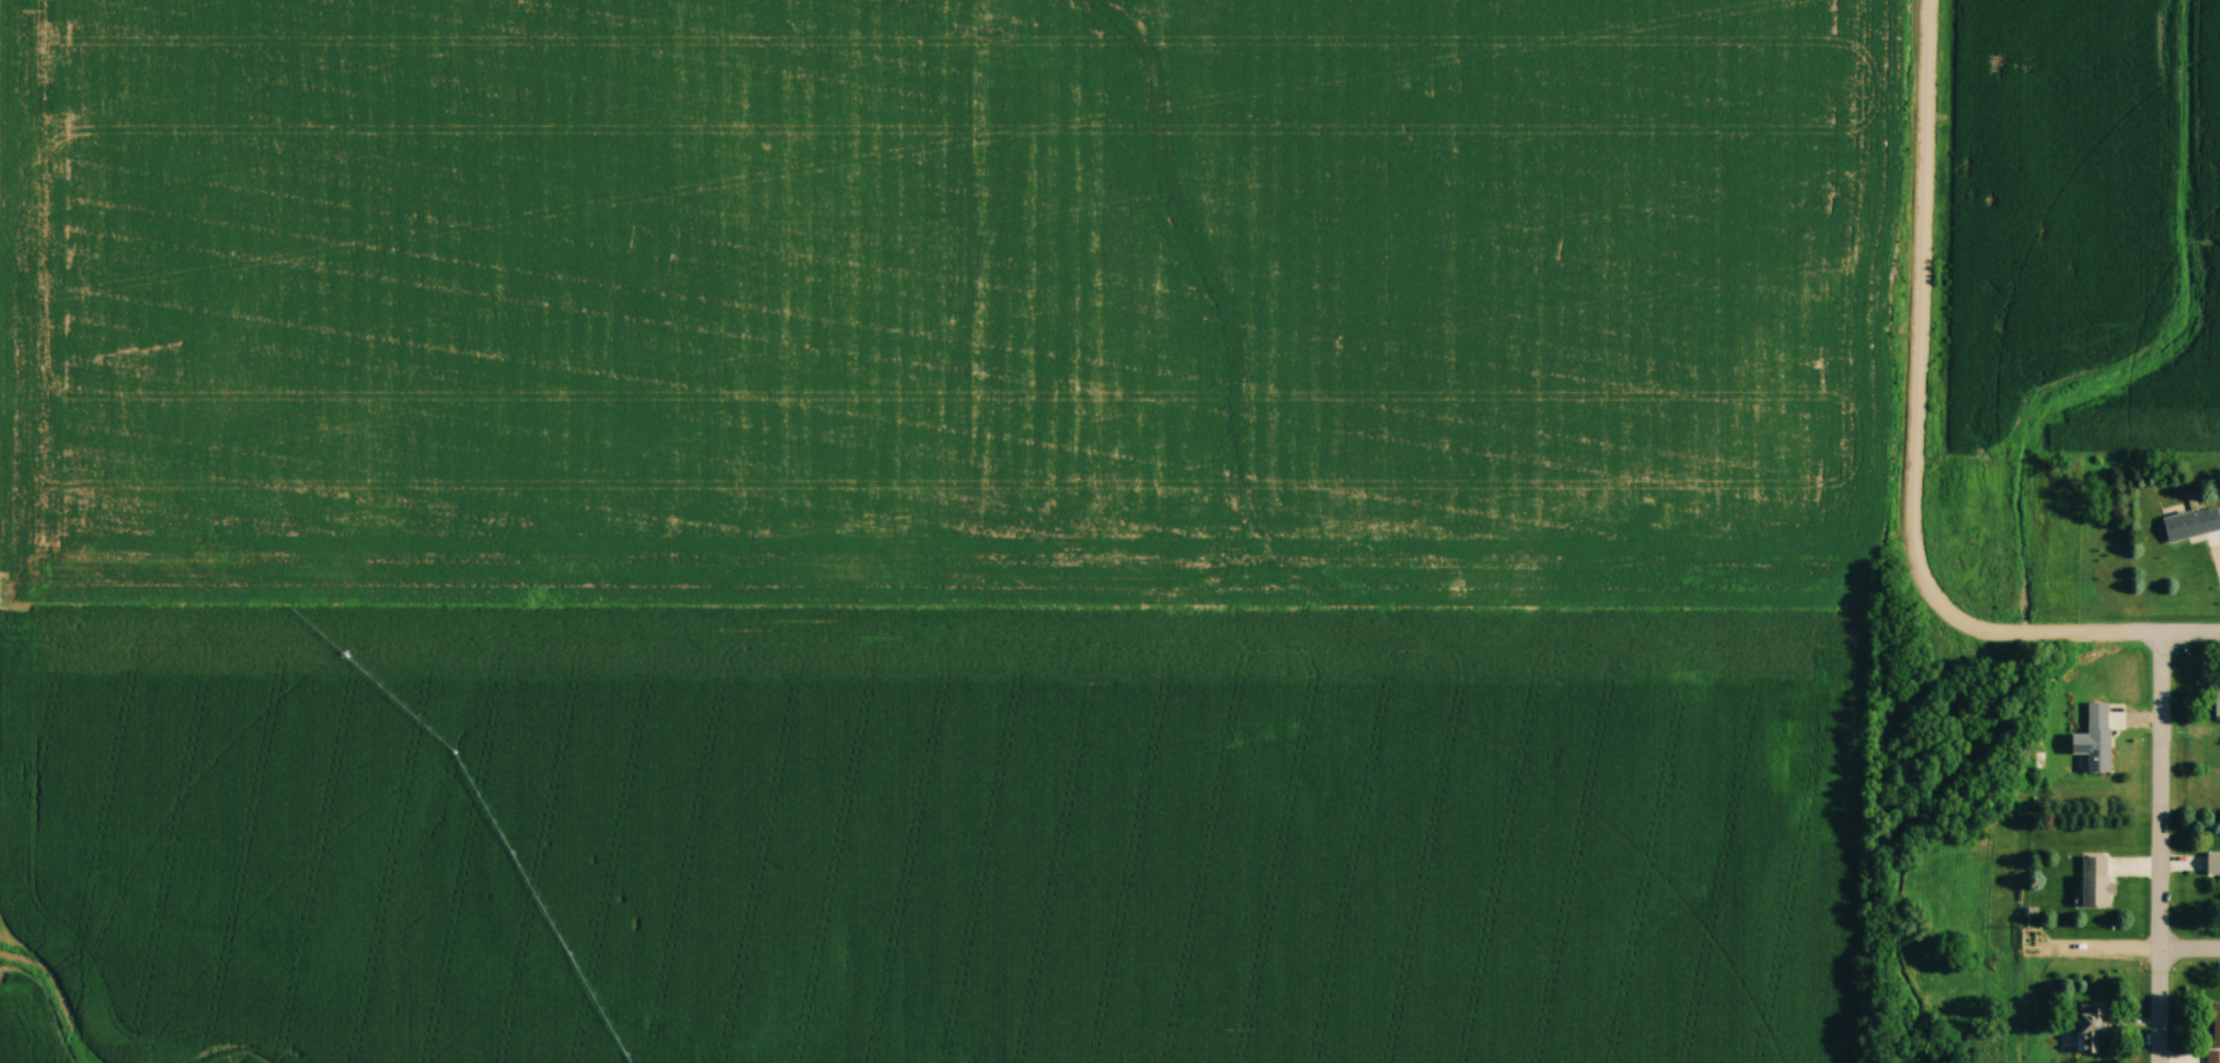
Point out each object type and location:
road: (1922, 303)
building: (2193, 524)
road: (2074, 634)
building: (2217, 698)
building: (2100, 750)
road: (2163, 848)
building: (2213, 864)
building: (2095, 881)
road: (2107, 947)
road: (2192, 947)
building: (2091, 1027)
building: (2213, 1033)

